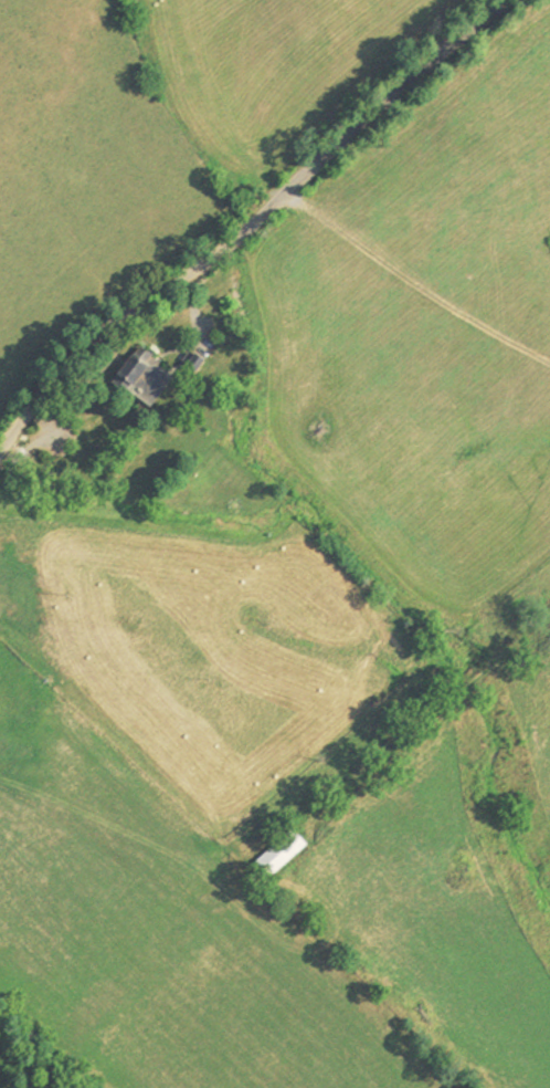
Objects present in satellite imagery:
crop: (84, 170)
road: (250, 223)
building: (134, 377)
building: (269, 852)

